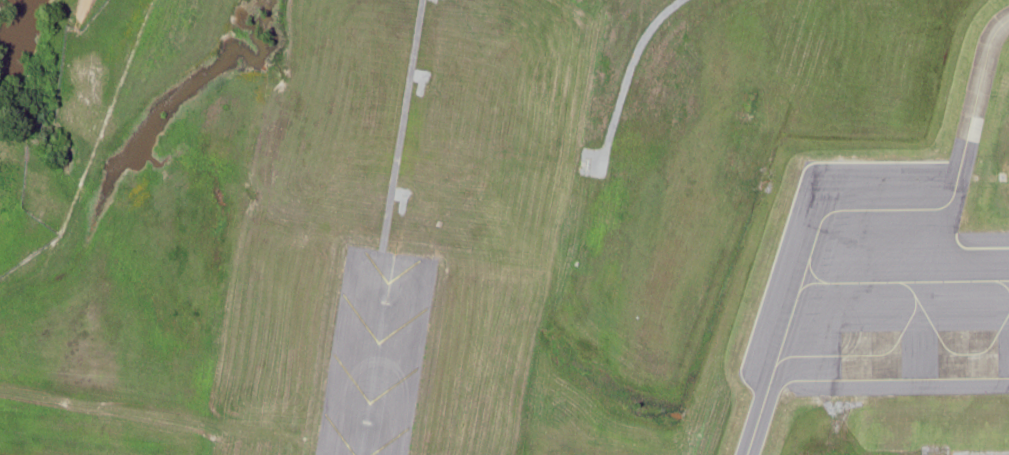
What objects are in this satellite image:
river: (8, 27)
airport: (512, 230)

